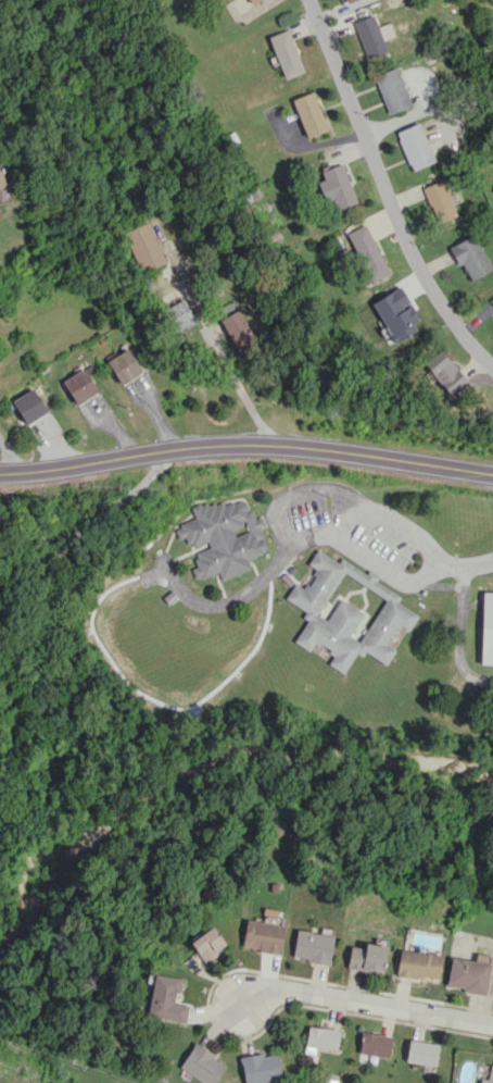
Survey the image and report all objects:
building: (347, 0)
building: (253, 1)
building: (369, 36)
building: (286, 53)
building: (391, 89)
building: (308, 113)
building: (414, 146)
building: (336, 186)
building: (2, 188)
road: (384, 188)
building: (439, 200)
building: (143, 247)
building: (367, 252)
building: (469, 257)
building: (161, 277)
building: (491, 300)
building: (395, 313)
building: (179, 314)
building: (238, 332)
building: (125, 364)
building: (444, 372)
building: (78, 385)
road: (240, 389)
building: (28, 406)
road: (246, 444)
road: (342, 493)
building: (223, 537)
road: (67, 541)
road: (366, 558)
road: (478, 564)
building: (346, 612)
building: (486, 628)
building: (262, 936)
building: (206, 944)
building: (311, 946)
building: (366, 957)
building: (417, 963)
building: (467, 974)
building: (165, 999)
road: (363, 1012)
building: (320, 1038)
building: (374, 1044)
building: (421, 1053)
building: (202, 1065)
building: (261, 1068)
building: (488, 1075)

